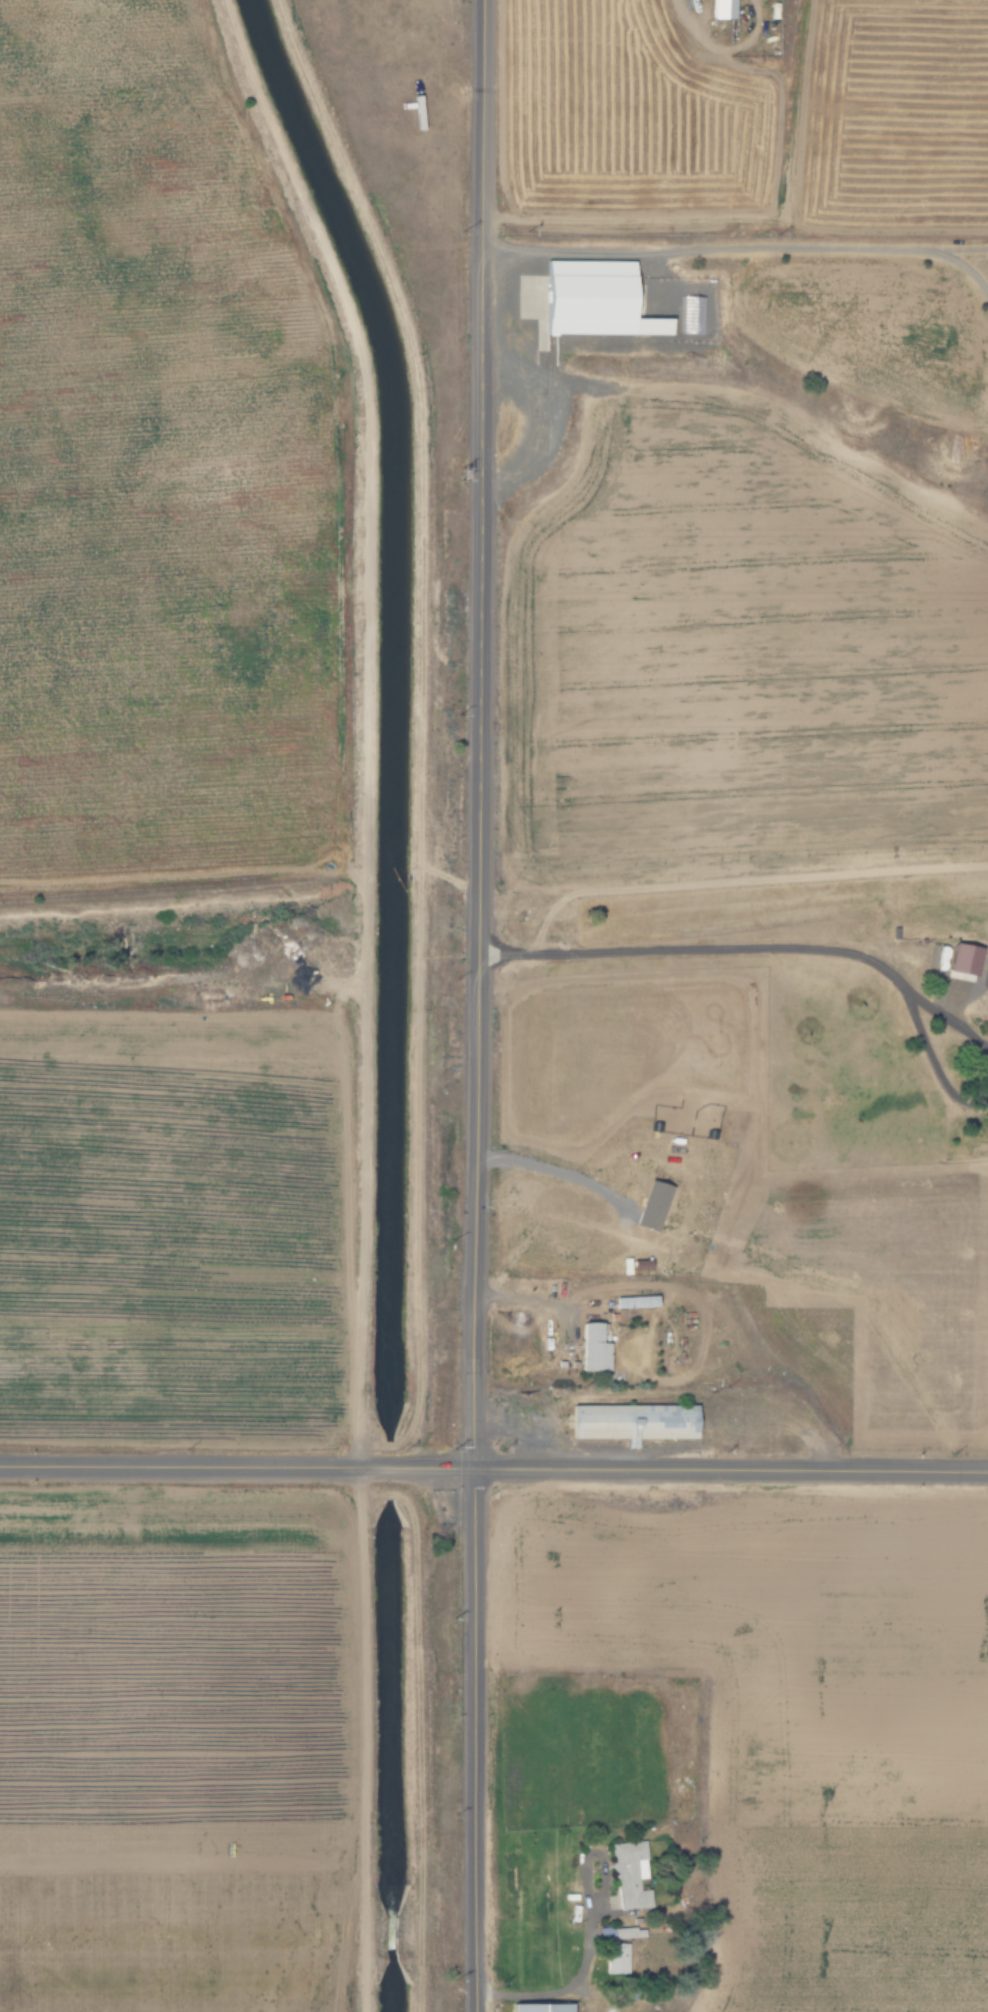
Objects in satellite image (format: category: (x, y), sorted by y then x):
building: (718, 9)
crop: (743, 117)
road: (740, 246)
building: (578, 297)
building: (691, 314)
building: (115, 699)
road: (704, 948)
road: (359, 993)
road: (479, 1006)
road: (950, 1021)
road: (937, 1060)
road: (523, 1300)
building: (632, 1301)
building: (589, 1347)
building: (630, 1421)
road: (494, 1469)
crop: (800, 1722)
crop: (174, 1747)
building: (628, 1875)
building: (614, 1959)
road: (576, 1977)
building: (536, 2007)

